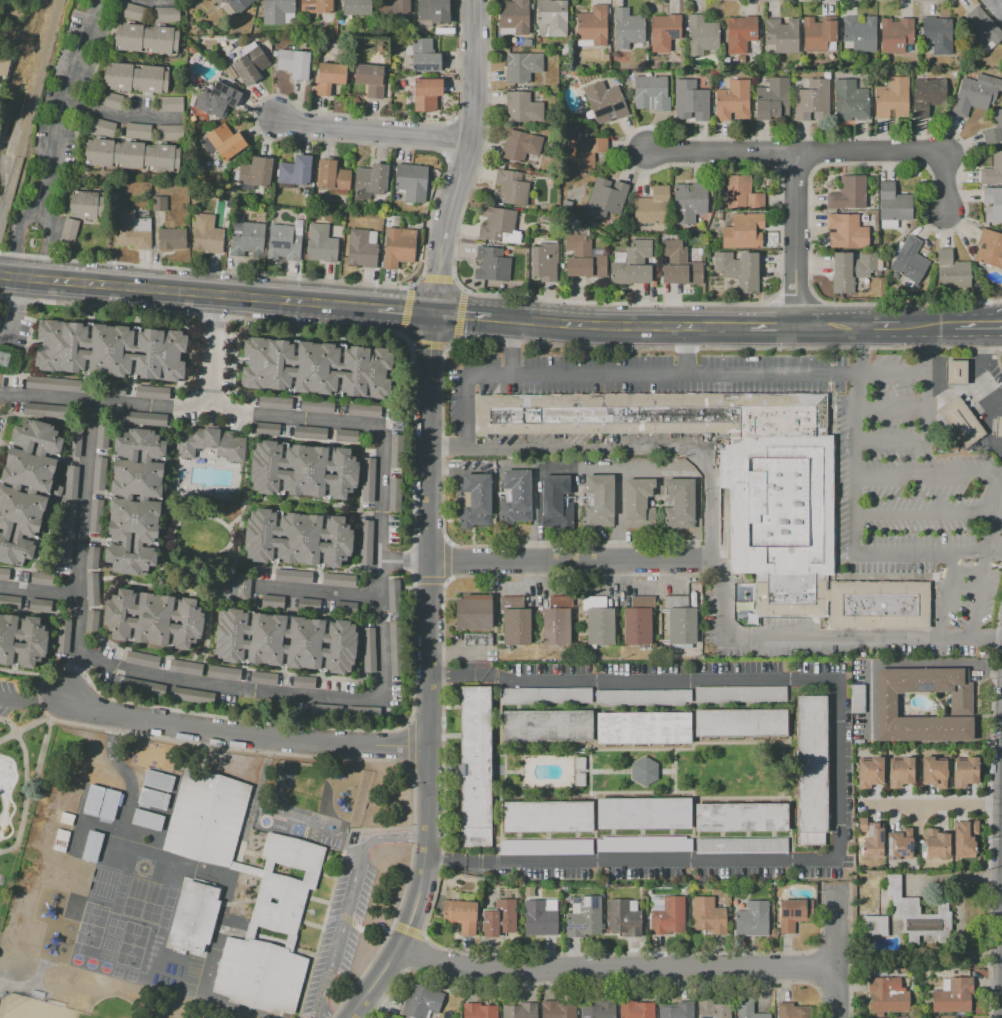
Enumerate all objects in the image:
building: (239, 4)
building: (316, 6)
building: (393, 6)
building: (356, 7)
building: (994, 8)
building: (227, 9)
building: (433, 10)
building: (278, 12)
building: (165, 14)
building: (514, 16)
building: (553, 16)
building: (592, 27)
building: (626, 28)
building: (664, 31)
building: (981, 31)
building: (740, 33)
building: (859, 33)
building: (819, 34)
building: (701, 35)
building: (781, 35)
building: (895, 35)
building: (936, 35)
building: (145, 38)
building: (380, 47)
building: (423, 56)
building: (605, 56)
building: (739, 59)
building: (726, 60)
building: (294, 63)
building: (3, 64)
building: (249, 64)
building: (521, 66)
building: (135, 77)
building: (328, 78)
building: (369, 80)
building: (650, 93)
building: (975, 93)
building: (426, 94)
building: (927, 96)
building: (771, 98)
building: (892, 98)
building: (108, 99)
building: (217, 99)
building: (811, 99)
building: (690, 100)
building: (732, 100)
building: (848, 100)
road: (59, 102)
building: (605, 102)
building: (168, 103)
building: (521, 107)
road: (120, 117)
road: (468, 121)
road: (643, 126)
building: (994, 129)
building: (136, 130)
road: (369, 130)
building: (169, 132)
road: (446, 138)
building: (225, 142)
building: (206, 145)
building: (520, 145)
building: (584, 152)
road: (774, 152)
road: (826, 152)
road: (811, 153)
building: (132, 155)
road: (443, 158)
road: (463, 158)
road: (460, 162)
road: (792, 168)
building: (295, 171)
building: (992, 171)
building: (255, 172)
building: (332, 176)
building: (372, 179)
building: (411, 182)
building: (510, 188)
building: (848, 193)
building: (741, 194)
building: (113, 197)
building: (605, 198)
building: (688, 201)
building: (159, 203)
building: (992, 204)
building: (86, 205)
building: (566, 205)
building: (893, 205)
building: (652, 206)
building: (719, 216)
building: (387, 220)
building: (498, 226)
building: (132, 230)
building: (67, 231)
building: (743, 231)
building: (845, 231)
building: (206, 235)
road: (17, 236)
building: (172, 238)
road: (794, 238)
road: (50, 239)
building: (246, 239)
building: (284, 242)
building: (322, 242)
building: (398, 247)
building: (361, 248)
building: (989, 248)
building: (583, 256)
building: (908, 259)
building: (544, 261)
building: (631, 263)
building: (492, 264)
building: (679, 264)
building: (738, 270)
building: (851, 270)
building: (951, 271)
road: (437, 277)
road: (187, 290)
road: (794, 297)
road: (17, 306)
road: (404, 309)
road: (405, 309)
traffic signals: (433, 313)
road: (459, 314)
road: (463, 314)
road: (620, 321)
road: (979, 323)
road: (772, 324)
road: (927, 324)
road: (829, 325)
road: (881, 325)
road: (498, 340)
road: (428, 344)
road: (511, 347)
road: (930, 348)
road: (686, 349)
building: (110, 350)
road: (216, 354)
road: (953, 358)
building: (315, 367)
road: (975, 368)
building: (955, 372)
gas station: (955, 372)
road: (894, 374)
road: (636, 376)
building: (51, 383)
building: (114, 389)
building: (151, 392)
building: (273, 402)
building: (315, 406)
building: (42, 409)
building: (362, 409)
road: (893, 409)
building: (142, 418)
parking lot: (1, 419)
road: (172, 420)
building: (961, 421)
road: (929, 423)
building: (998, 427)
gas station: (998, 427)
road: (249, 428)
building: (263, 428)
building: (308, 432)
building: (345, 435)
road: (893, 440)
building: (73, 441)
building: (211, 443)
road: (641, 447)
building: (394, 450)
road: (245, 468)
building: (302, 469)
building: (98, 473)
road: (928, 473)
road: (168, 479)
building: (367, 479)
building: (70, 482)
building: (25, 488)
building: (743, 490)
building: (600, 494)
building: (516, 496)
building: (556, 496)
road: (85, 499)
building: (474, 500)
building: (134, 501)
building: (636, 501)
building: (679, 503)
road: (301, 507)
parking lot: (919, 509)
road: (370, 510)
road: (925, 511)
building: (94, 515)
road: (209, 517)
road: (619, 517)
road: (234, 522)
building: (67, 523)
road: (853, 536)
park: (196, 537)
building: (297, 538)
building: (365, 542)
road: (162, 548)
road: (170, 550)
building: (64, 554)
road: (230, 554)
building: (91, 557)
road: (988, 559)
road: (404, 562)
road: (254, 569)
building: (3, 574)
road: (544, 574)
road: (612, 574)
road: (624, 574)
building: (292, 576)
building: (337, 579)
road: (90, 580)
road: (430, 580)
road: (201, 584)
road: (596, 586)
building: (242, 587)
building: (91, 588)
road: (318, 593)
road: (943, 594)
building: (392, 595)
road: (721, 595)
road: (377, 598)
building: (271, 601)
building: (38, 604)
building: (472, 611)
building: (153, 619)
building: (514, 620)
building: (556, 620)
building: (680, 620)
building: (597, 621)
building: (637, 621)
road: (996, 630)
building: (62, 635)
road: (206, 636)
building: (476, 639)
building: (21, 640)
building: (285, 640)
building: (394, 647)
building: (367, 649)
road: (460, 651)
building: (141, 659)
road: (900, 663)
building: (184, 667)
building: (222, 672)
road: (73, 675)
road: (430, 675)
building: (262, 677)
building: (302, 681)
building: (190, 695)
building: (545, 695)
building: (740, 695)
parking lot: (6, 697)
building: (641, 697)
road: (31, 699)
building: (960, 701)
road: (43, 716)
road: (266, 721)
building: (740, 722)
road: (9, 723)
building: (546, 727)
building: (643, 728)
road: (244, 734)
road: (7, 736)
building: (579, 763)
building: (476, 766)
building: (811, 769)
road: (836, 770)
building: (644, 771)
building: (934, 771)
building: (869, 772)
building: (900, 772)
building: (965, 772)
building: (579, 779)
building: (157, 780)
road: (25, 797)
building: (152, 798)
building: (92, 801)
building: (109, 804)
road: (934, 806)
building: (642, 813)
building: (546, 816)
building: (206, 817)
building: (741, 817)
building: (147, 820)
building: (862, 825)
road: (398, 836)
building: (964, 838)
park: (15, 839)
building: (60, 840)
building: (873, 841)
road: (988, 842)
building: (644, 844)
building: (898, 844)
building: (936, 844)
building: (741, 845)
building: (92, 846)
building: (546, 846)
road: (439, 863)
building: (565, 887)
building: (528, 891)
building: (194, 914)
building: (791, 914)
building: (917, 914)
road: (959, 914)
building: (460, 915)
building: (666, 915)
building: (708, 915)
building: (583, 916)
building: (500, 917)
building: (540, 917)
building: (624, 918)
building: (752, 919)
building: (273, 924)
parking lot: (340, 926)
road: (342, 926)
building: (874, 926)
road: (407, 928)
road: (849, 950)
road: (837, 951)
road: (616, 967)
road: (594, 982)
road: (26, 984)
road: (123, 991)
building: (887, 995)
building: (953, 995)
building: (420, 1001)
park: (31, 1008)
building: (558, 1009)
building: (636, 1009)
building: (520, 1010)
building: (675, 1010)
building: (748, 1010)
building: (479, 1011)
building: (597, 1011)
building: (713, 1011)
building: (793, 1011)
road: (318, 1016)
building: (388, 1017)

